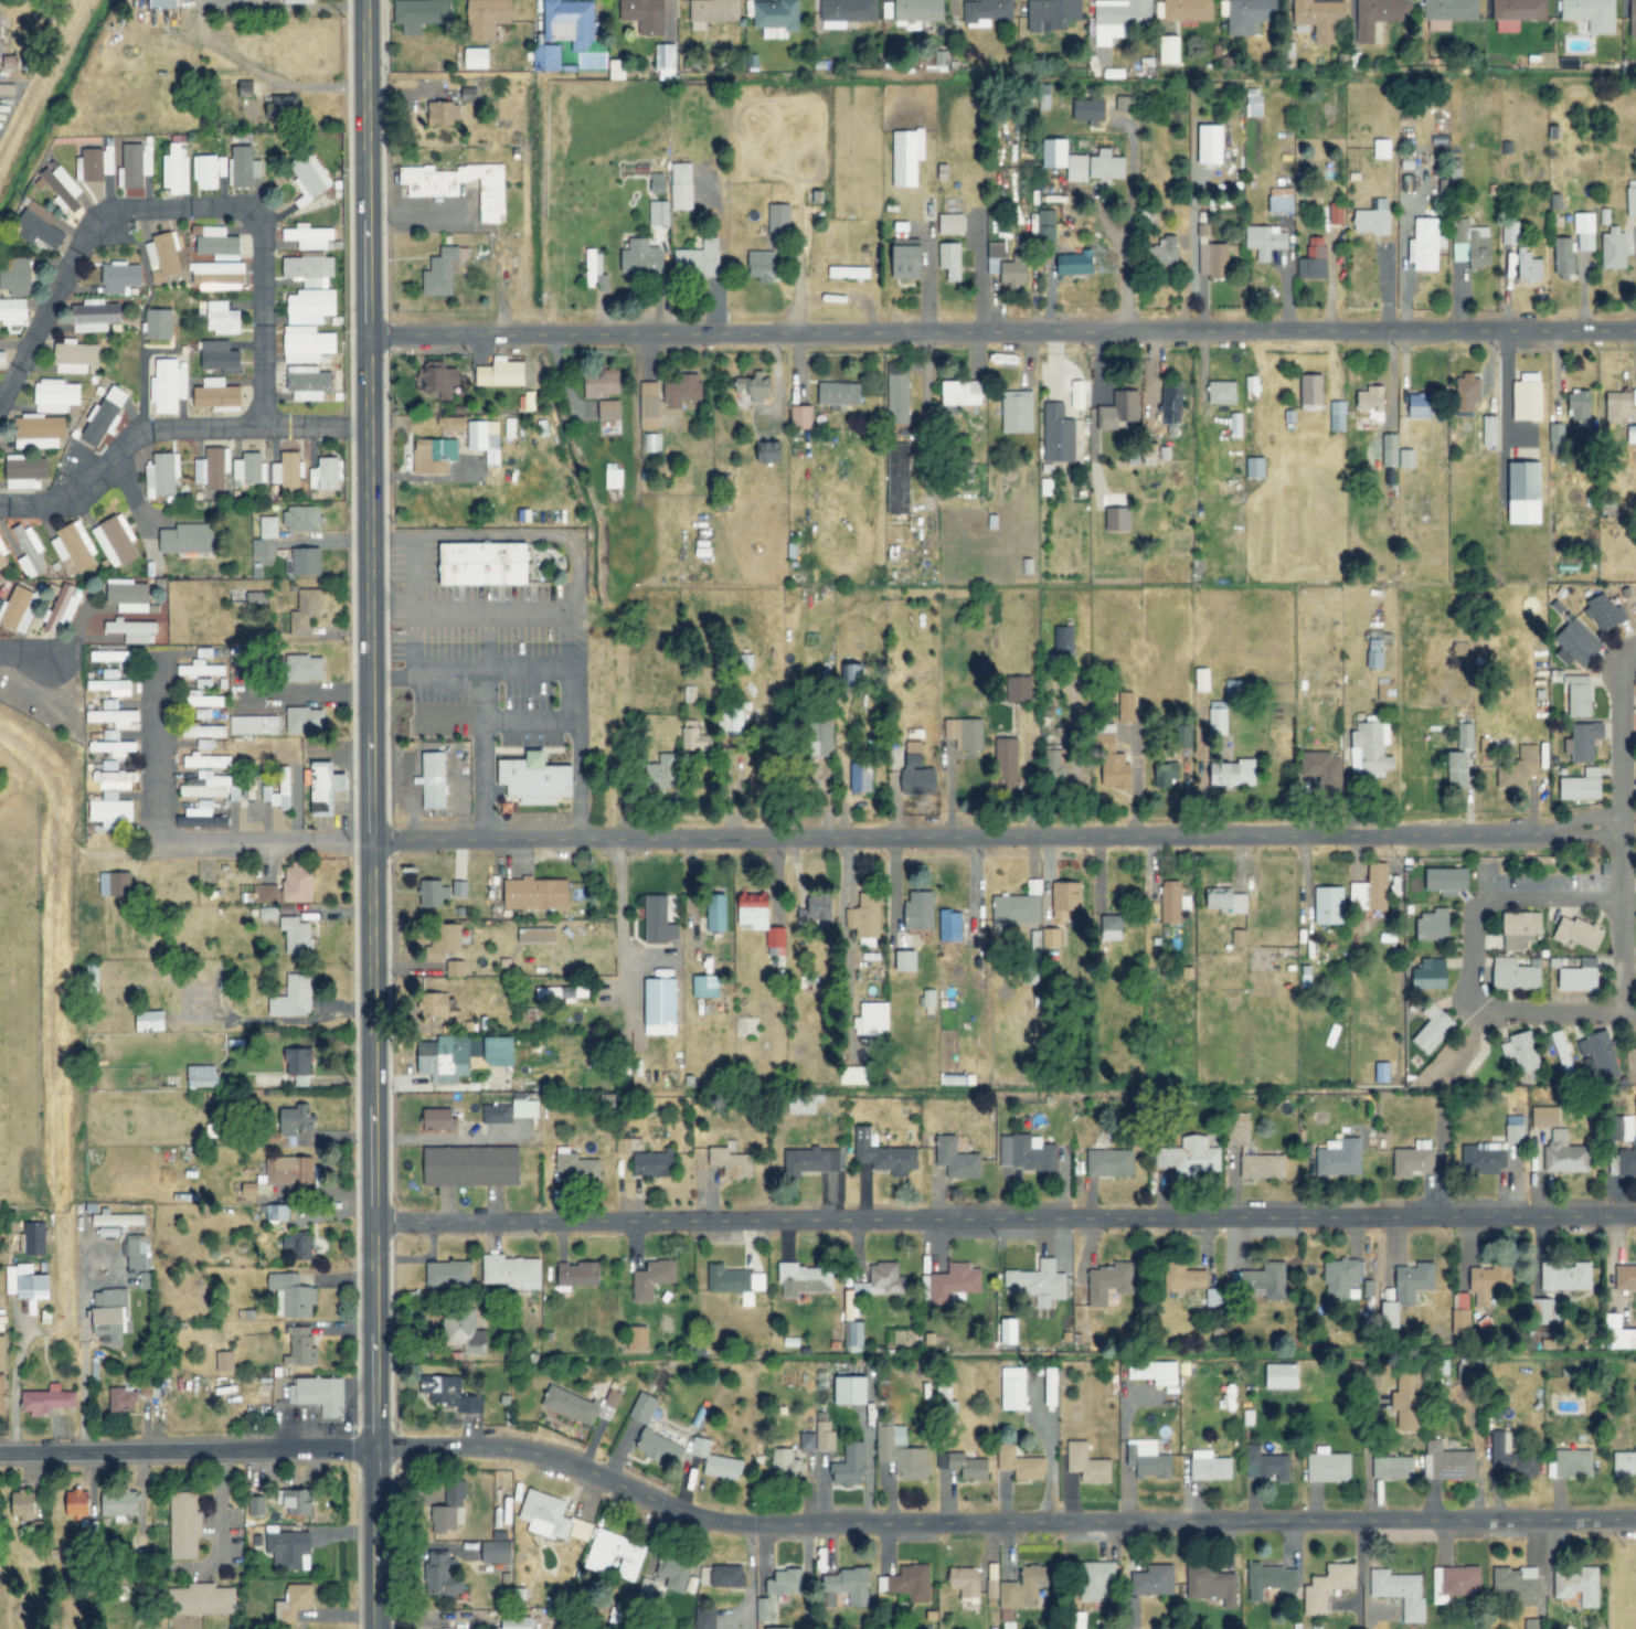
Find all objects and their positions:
building: (298, 1)
building: (163, 3)
building: (713, 10)
building: (918, 10)
building: (1187, 10)
building: (986, 12)
building: (1517, 13)
building: (418, 14)
building: (1051, 14)
building: (1247, 14)
building: (1591, 14)
building: (645, 15)
building: (1378, 15)
building: (487, 18)
building: (776, 18)
building: (1319, 18)
building: (1633, 18)
building: (1117, 19)
building: (570, 22)
building: (0, 42)
building: (1168, 50)
building: (545, 57)
building: (476, 58)
building: (666, 62)
building: (616, 70)
building: (1252, 103)
building: (1124, 104)
building: (278, 108)
building: (1088, 109)
building: (442, 114)
building: (1211, 145)
building: (1381, 149)
building: (906, 157)
building: (1083, 161)
building: (134, 166)
building: (243, 167)
building: (174, 169)
building: (208, 171)
building: (309, 179)
building: (62, 187)
building: (681, 187)
building: (432, 190)
building: (1630, 198)
building: (1281, 201)
road: (176, 209)
road: (417, 213)
building: (658, 213)
building: (1335, 214)
building: (778, 220)
building: (1372, 220)
building: (950, 224)
building: (1044, 225)
building: (39, 227)
building: (1582, 231)
building: (1509, 233)
building: (310, 237)
building: (1265, 241)
building: (1470, 244)
building: (1425, 245)
building: (1612, 248)
building: (1167, 249)
building: (161, 256)
building: (995, 256)
building: (1562, 257)
building: (641, 258)
building: (698, 259)
building: (1313, 259)
building: (949, 260)
building: (1212, 260)
building: (909, 262)
building: (1076, 264)
building: (591, 266)
building: (762, 266)
building: (1527, 267)
building: (309, 269)
building: (1014, 270)
building: (442, 271)
building: (849, 273)
building: (15, 276)
building: (219, 276)
building: (119, 277)
building: (309, 307)
building: (13, 312)
building: (95, 317)
building: (222, 319)
building: (158, 324)
road: (999, 333)
building: (307, 344)
building: (219, 355)
building: (2, 358)
building: (74, 358)
building: (501, 373)
building: (443, 382)
building: (307, 383)
building: (601, 383)
building: (167, 385)
building: (754, 386)
building: (682, 390)
building: (1311, 390)
building: (1465, 392)
building: (962, 393)
building: (1222, 393)
building: (838, 394)
building: (55, 395)
building: (217, 395)
building: (1076, 395)
building: (1527, 397)
building: (896, 398)
building: (1171, 403)
building: (1371, 403)
building: (649, 405)
building: (1419, 405)
building: (1580, 405)
building: (1617, 407)
building: (609, 411)
building: (1017, 412)
building: (1119, 412)
building: (103, 416)
building: (1337, 416)
building: (800, 417)
building: (455, 420)
road: (168, 428)
building: (1630, 429)
building: (1488, 430)
building: (40, 432)
building: (1056, 435)
building: (1554, 437)
building: (484, 439)
building: (648, 443)
building: (1389, 450)
building: (771, 451)
building: (433, 457)
building: (1405, 458)
building: (211, 468)
building: (1255, 468)
building: (25, 471)
building: (161, 475)
building: (325, 475)
building: (613, 477)
building: (897, 478)
building: (1526, 493)
building: (301, 518)
building: (1117, 519)
building: (267, 528)
building: (188, 539)
building: (115, 542)
building: (72, 547)
building: (26, 551)
building: (2, 561)
building: (305, 562)
building: (484, 564)
building: (127, 596)
building: (1633, 603)
building: (61, 607)
building: (17, 608)
building: (306, 611)
building: (1604, 611)
building: (132, 631)
building: (1063, 643)
building: (1577, 643)
road: (24, 653)
building: (1374, 653)
building: (109, 656)
building: (199, 669)
building: (305, 669)
building: (851, 675)
building: (1201, 680)
building: (202, 683)
building: (1022, 685)
building: (110, 686)
building: (1234, 689)
building: (1579, 696)
building: (201, 700)
building: (1126, 707)
building: (113, 717)
building: (1217, 717)
building: (304, 721)
building: (733, 722)
building: (253, 725)
building: (203, 731)
building: (966, 734)
building: (821, 737)
building: (1465, 737)
building: (693, 738)
building: (1583, 742)
building: (113, 747)
building: (1370, 749)
building: (1005, 755)
building: (205, 762)
building: (1052, 763)
building: (1113, 765)
building: (1321, 768)
building: (1518, 769)
building: (1458, 770)
building: (662, 773)
building: (1233, 774)
building: (1165, 775)
building: (916, 776)
building: (859, 778)
building: (535, 779)
building: (433, 780)
building: (762, 782)
building: (1581, 786)
building: (325, 787)
building: (277, 790)
building: (110, 811)
road: (371, 813)
road: (1618, 835)
road: (795, 840)
building: (1446, 880)
building: (298, 883)
building: (114, 884)
building: (459, 890)
building: (1371, 891)
building: (263, 894)
building: (433, 894)
building: (537, 894)
building: (1065, 898)
building: (1225, 901)
building: (1172, 903)
building: (1328, 906)
building: (818, 908)
building: (918, 911)
building: (715, 914)
building: (864, 916)
building: (658, 920)
building: (759, 920)
building: (1108, 923)
building: (949, 924)
building: (1433, 926)
building: (1520, 929)
building: (1577, 934)
building: (537, 935)
building: (296, 936)
building: (1236, 937)
building: (445, 938)
road: (1473, 958)
building: (906, 961)
building: (455, 969)
building: (1428, 975)
building: (1513, 975)
building: (1577, 975)
building: (92, 977)
building: (705, 987)
building: (561, 993)
building: (293, 997)
building: (927, 999)
building: (436, 1005)
building: (660, 1007)
building: (874, 1019)
building: (149, 1022)
building: (1433, 1028)
building: (1521, 1051)
building: (500, 1052)
building: (1598, 1054)
building: (1562, 1056)
building: (452, 1060)
building: (299, 1066)
building: (1381, 1073)
building: (853, 1075)
building: (202, 1076)
building: (804, 1105)
building: (523, 1107)
building: (496, 1115)
building: (1545, 1117)
building: (295, 1119)
building: (438, 1120)
building: (1513, 1130)
building: (623, 1147)
building: (1252, 1151)
building: (1028, 1153)
building: (882, 1154)
building: (1564, 1154)
building: (1189, 1157)
building: (1486, 1158)
building: (1339, 1159)
building: (810, 1160)
building: (956, 1160)
building: (1413, 1160)
building: (1628, 1160)
building: (731, 1163)
building: (1109, 1163)
building: (655, 1164)
building: (471, 1165)
building: (577, 1167)
building: (288, 1170)
building: (276, 1212)
building: (116, 1220)
road: (1005, 1220)
building: (32, 1238)
building: (297, 1245)
building: (136, 1252)
building: (511, 1271)
building: (447, 1274)
building: (578, 1274)
building: (1183, 1276)
building: (1565, 1276)
building: (1625, 1277)
building: (651, 1278)
building: (804, 1279)
building: (1263, 1279)
building: (26, 1282)
building: (735, 1282)
building: (949, 1282)
building: (1038, 1282)
building: (1108, 1282)
building: (1487, 1282)
building: (875, 1285)
building: (1348, 1285)
building: (1406, 1288)
building: (291, 1295)
building: (109, 1316)
building: (1459, 1321)
building: (1009, 1331)
building: (464, 1332)
building: (853, 1337)
building: (637, 1338)
building: (1622, 1338)
building: (299, 1348)
building: (2, 1352)
building: (224, 1361)
building: (1465, 1369)
building: (1154, 1372)
building: (1282, 1375)
building: (146, 1386)
building: (1013, 1388)
building: (851, 1390)
building: (2, 1394)
building: (318, 1394)
building: (448, 1394)
building: (612, 1398)
building: (46, 1399)
building: (121, 1399)
building: (1406, 1401)
building: (571, 1405)
building: (641, 1407)
building: (824, 1433)
building: (807, 1441)
building: (655, 1446)
building: (900, 1452)
building: (1147, 1459)
building: (714, 1461)
building: (784, 1462)
building: (1448, 1462)
building: (1020, 1463)
building: (1087, 1463)
building: (1571, 1463)
building: (1624, 1463)
building: (850, 1465)
building: (963, 1465)
building: (1265, 1465)
building: (1209, 1466)
building: (1328, 1466)
building: (1392, 1467)
building: (295, 1500)
building: (23, 1503)
building: (76, 1503)
building: (119, 1504)
building: (255, 1505)
building: (449, 1508)
building: (545, 1514)
building: (183, 1525)
road: (810, 1525)
building: (581, 1530)
building: (288, 1550)
building: (496, 1552)
building: (615, 1554)
building: (674, 1573)
building: (442, 1576)
building: (726, 1576)
building: (1154, 1579)
building: (1096, 1580)
building: (1271, 1580)
building: (1456, 1580)
building: (965, 1582)
building: (910, 1584)
building: (1210, 1584)
building: (1516, 1584)
building: (1577, 1584)
building: (849, 1585)
building: (1023, 1587)
building: (1327, 1587)
building: (777, 1591)
building: (1399, 1591)
building: (299, 1596)
building: (200, 1599)
building: (704, 1618)
building: (517, 1622)
building: (1530, 1623)
building: (778, 1628)

